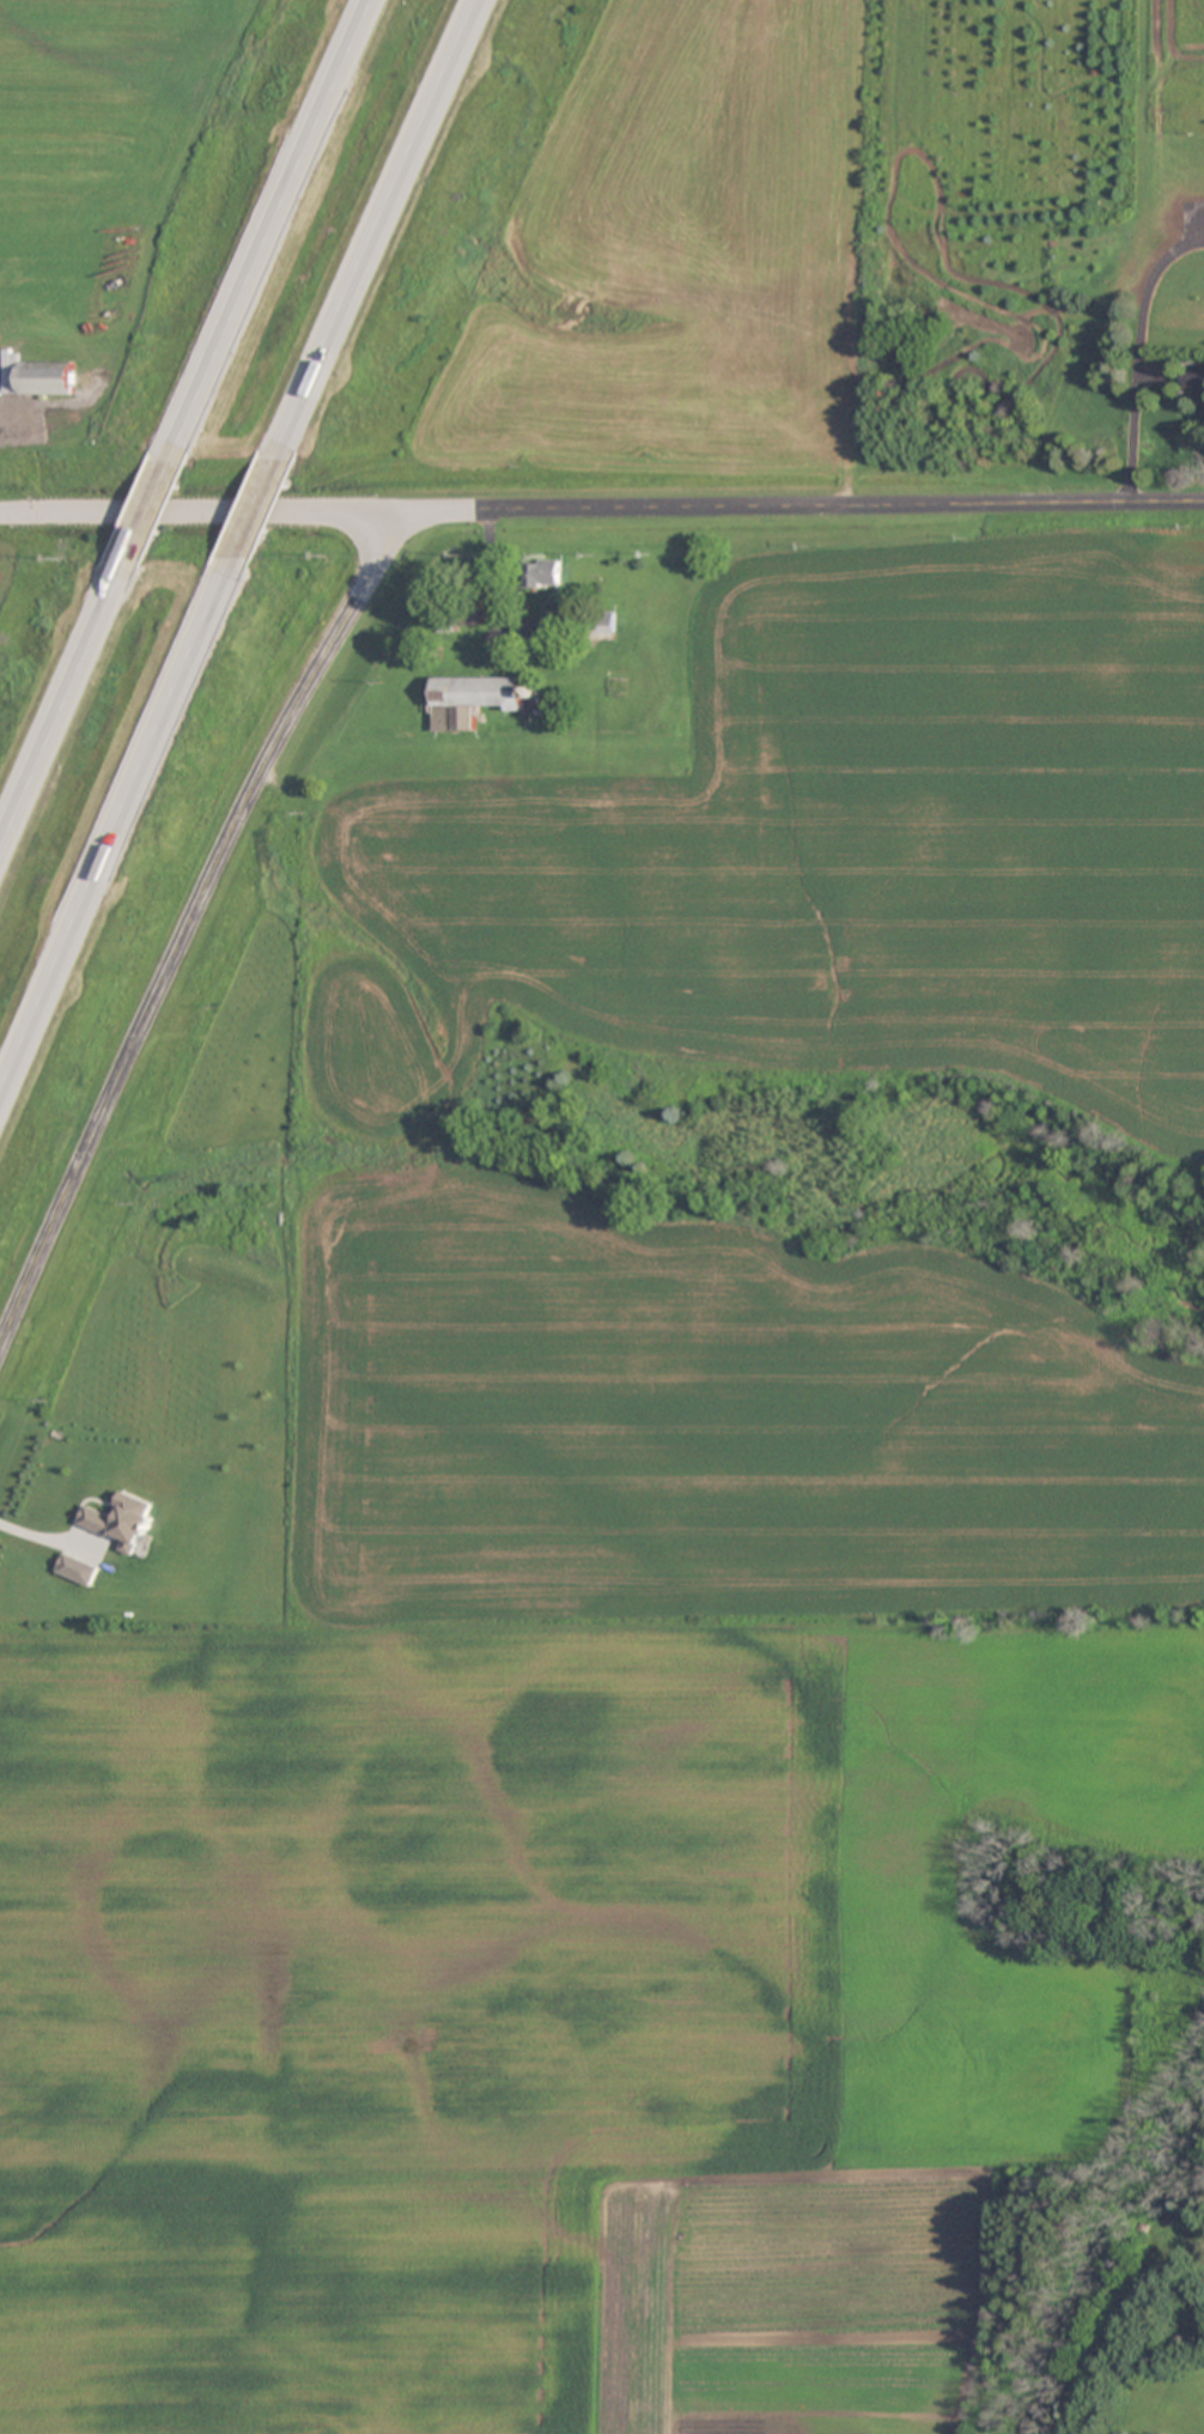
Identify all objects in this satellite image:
road: (275, 223)
road: (383, 230)
building: (50, 377)
road: (148, 502)
road: (601, 504)
road: (254, 510)
building: (549, 575)
building: (464, 619)
building: (592, 621)
building: (473, 700)
road: (61, 702)
road: (115, 830)
road: (187, 921)
building: (120, 1519)
road: (45, 1541)

